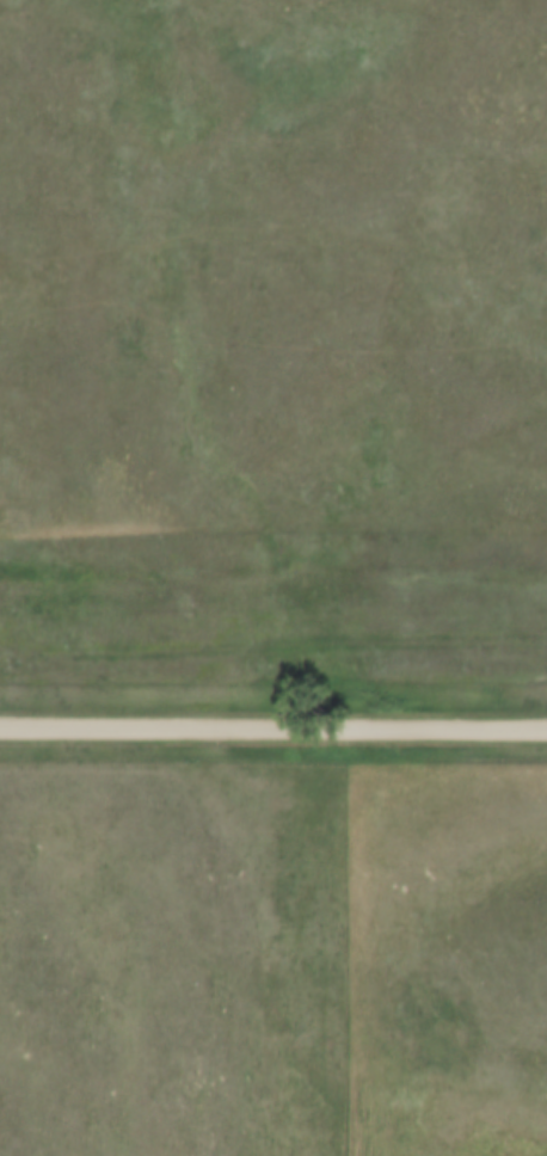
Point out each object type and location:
road: (273, 727)

